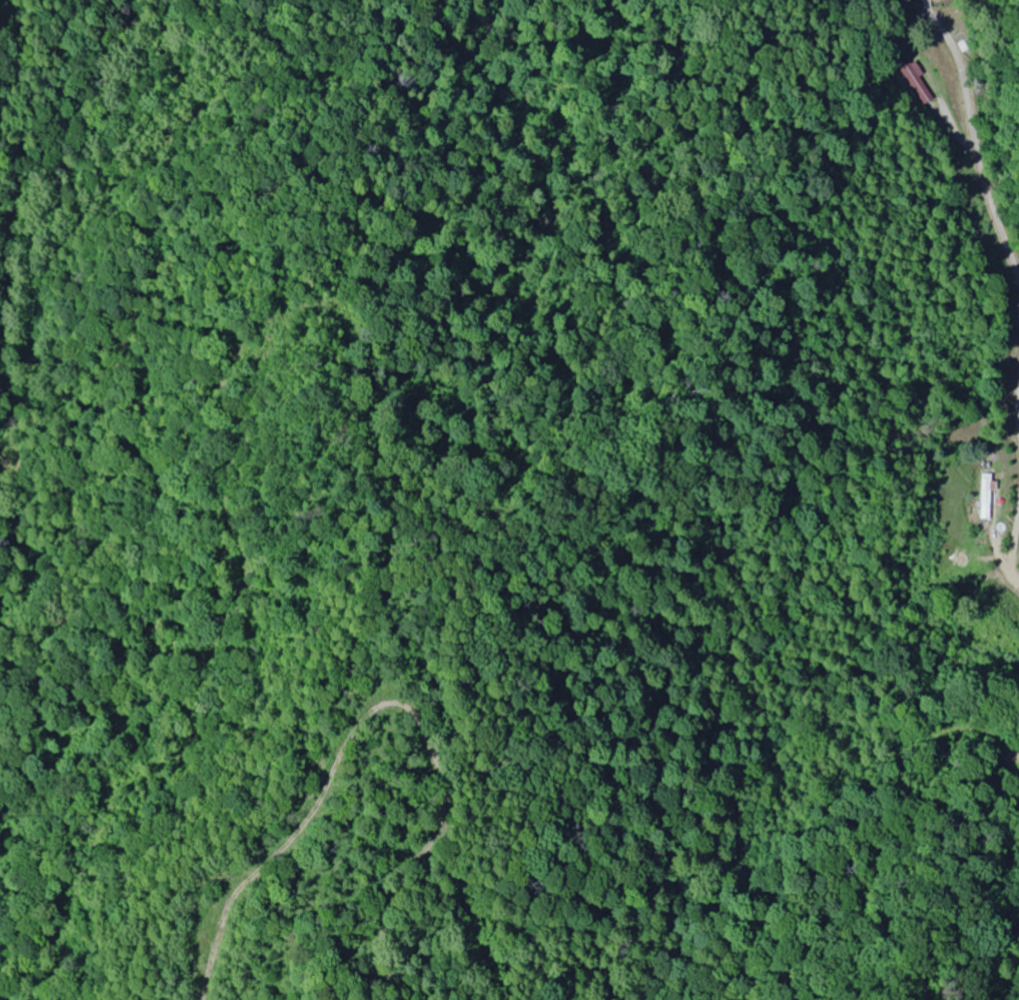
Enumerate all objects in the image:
building: (915, 82)
road: (547, 254)
building: (983, 497)

